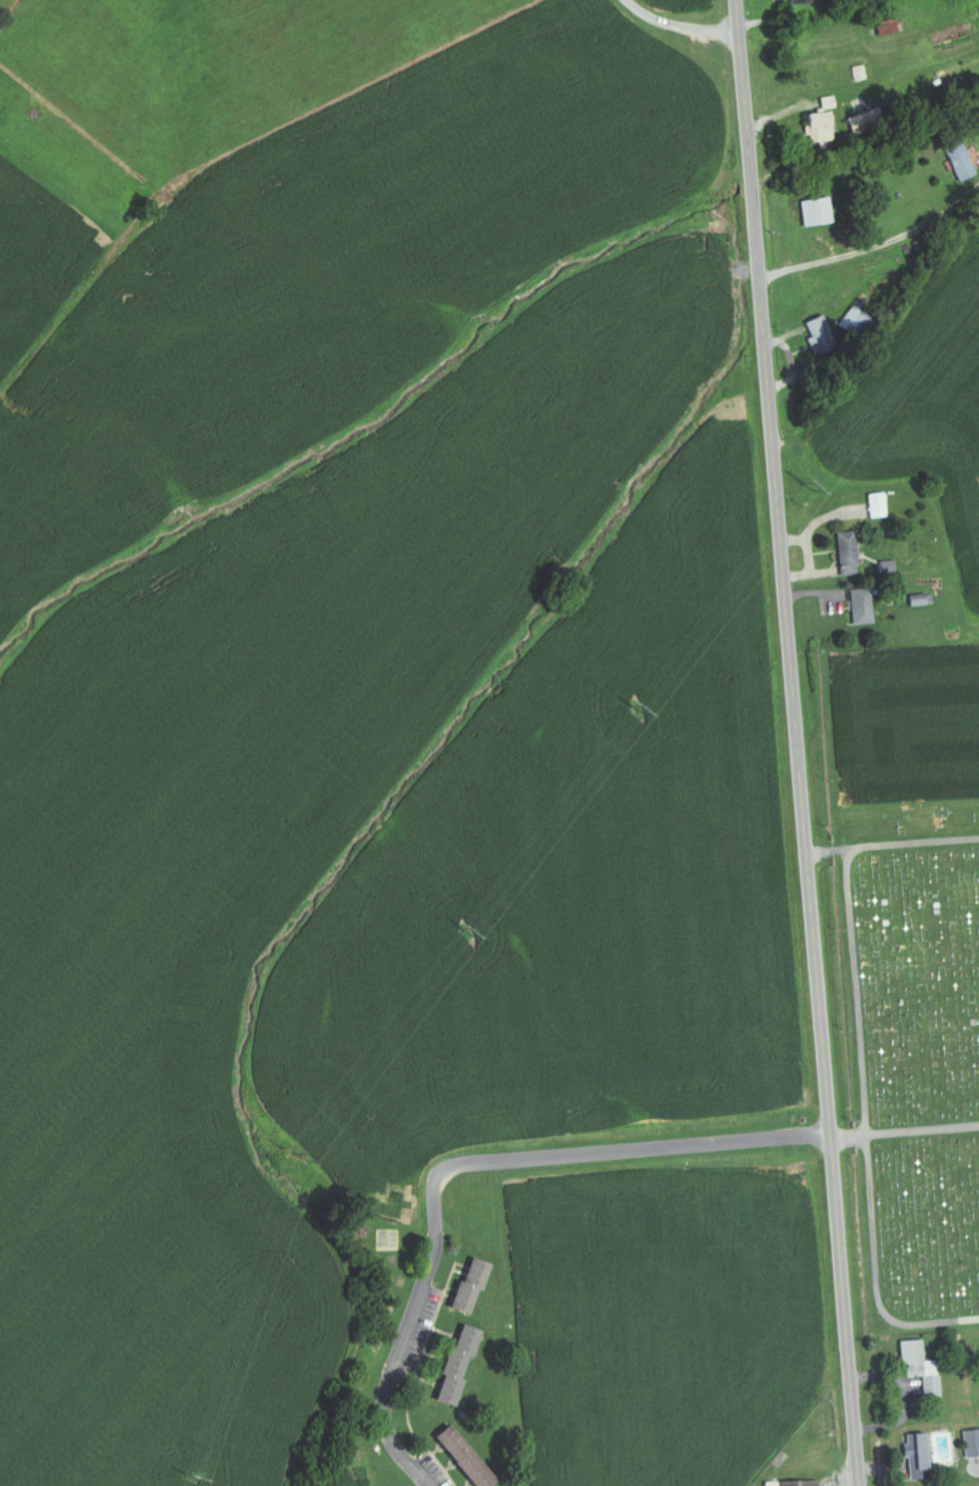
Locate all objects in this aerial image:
road: (677, 26)
building: (886, 27)
building: (859, 73)
building: (827, 103)
building: (819, 128)
building: (959, 159)
building: (815, 212)
building: (851, 322)
building: (818, 333)
building: (876, 506)
road: (97, 517)
building: (846, 554)
building: (860, 607)
road: (796, 743)
road: (912, 844)
road: (826, 852)
park: (913, 1055)
road: (866, 1130)
road: (904, 1131)
road: (649, 1147)
building: (468, 1286)
road: (409, 1319)
building: (911, 1356)
building: (455, 1365)
building: (930, 1379)
building: (971, 1443)
building: (914, 1456)
building: (465, 1457)
building: (791, 1483)

